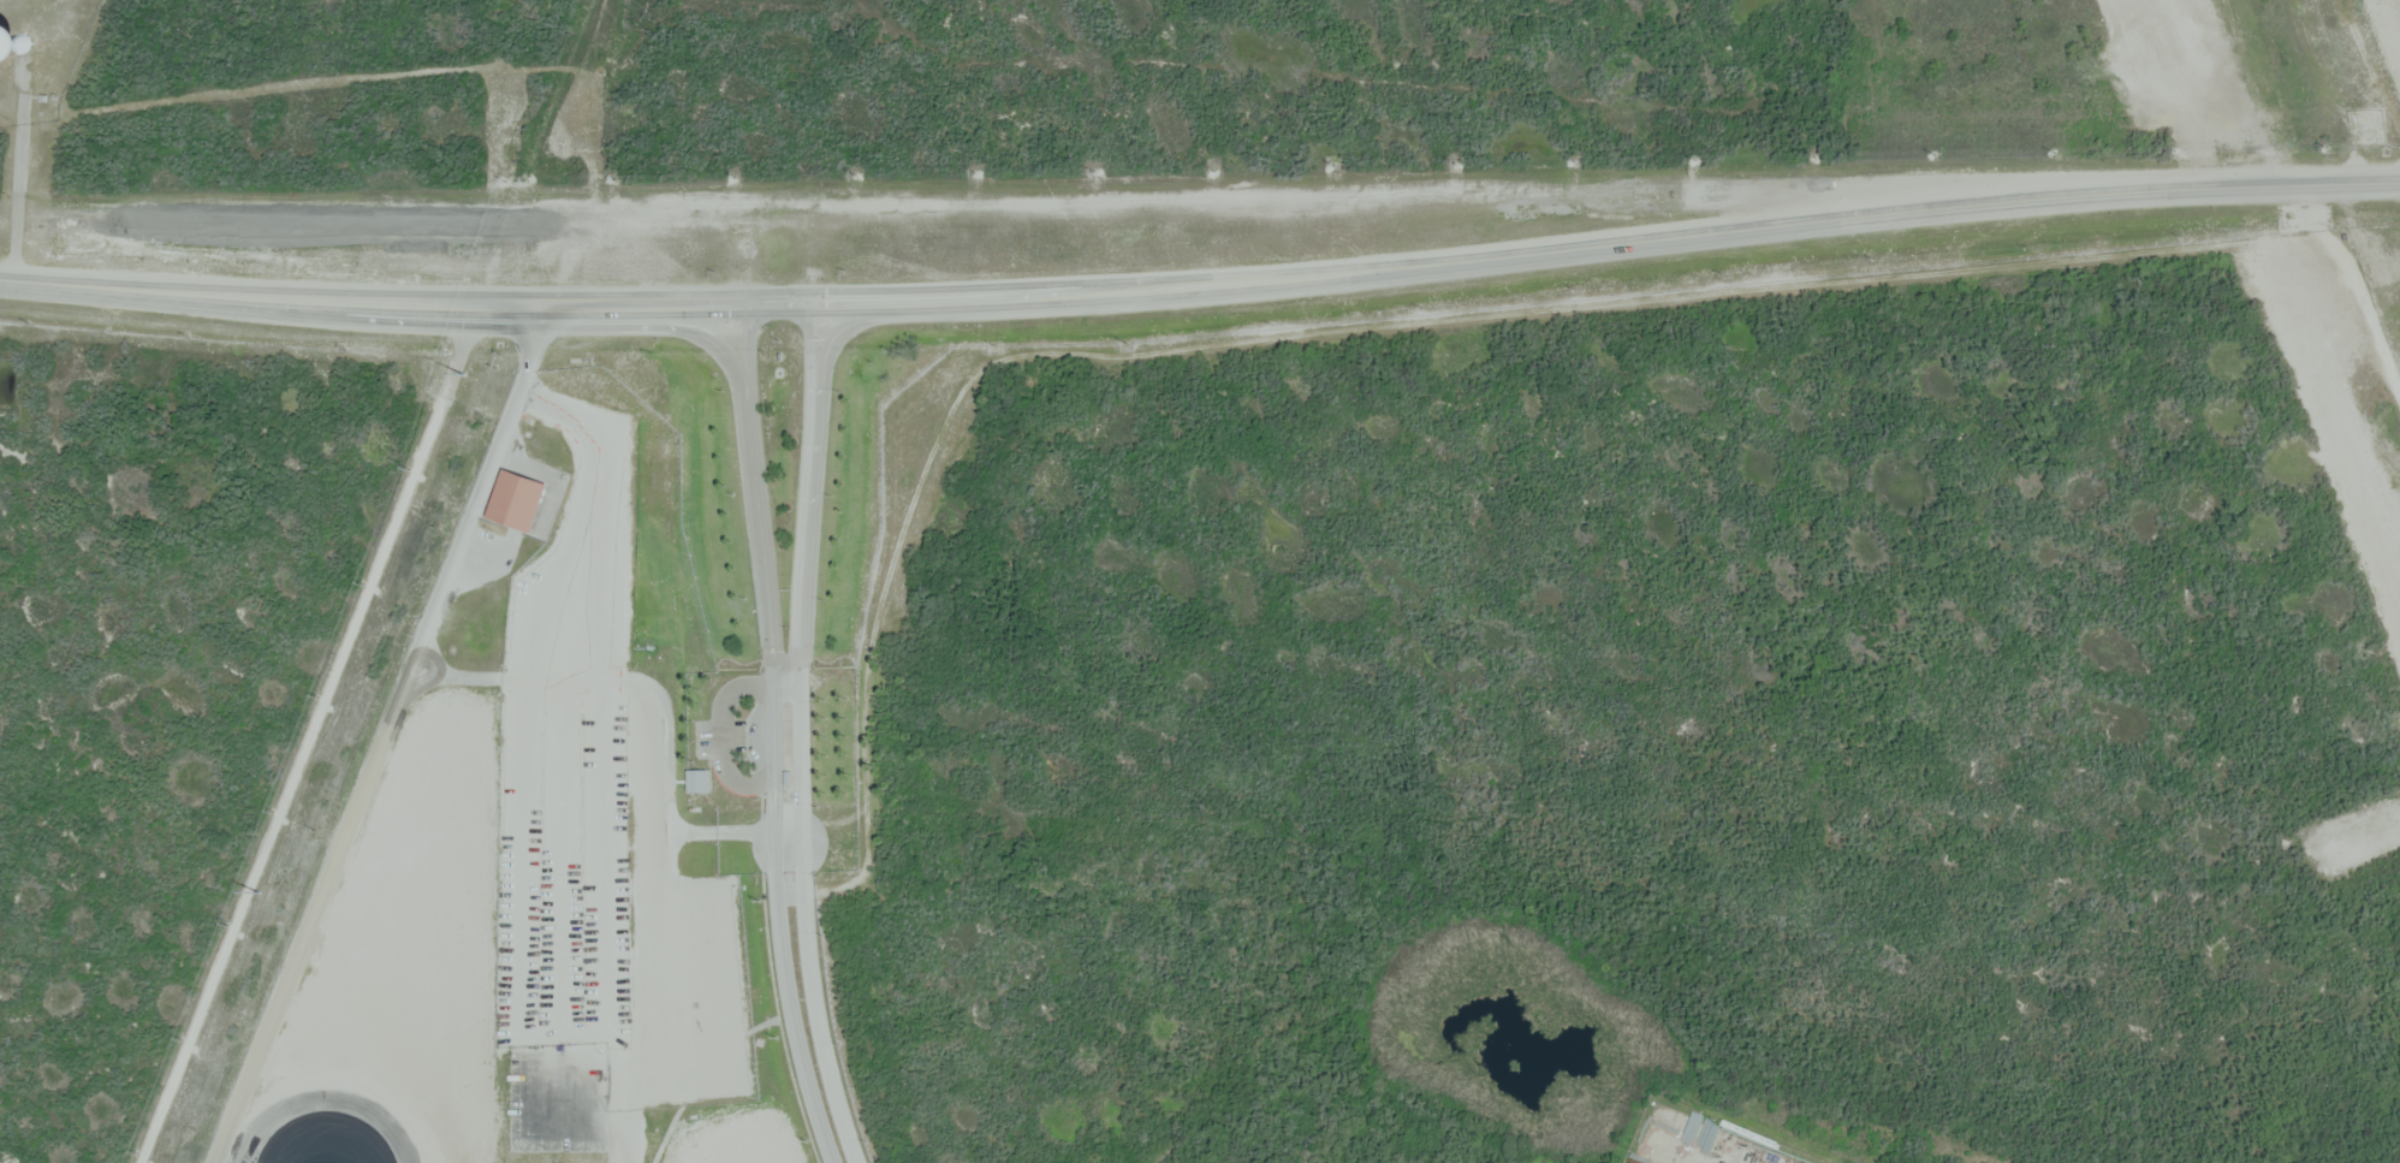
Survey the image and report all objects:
water tower: (28, 40)
road: (20, 174)
road: (1201, 286)
road: (780, 299)
building: (518, 499)
road: (311, 734)
building: (700, 782)
helipad: (562, 1102)

